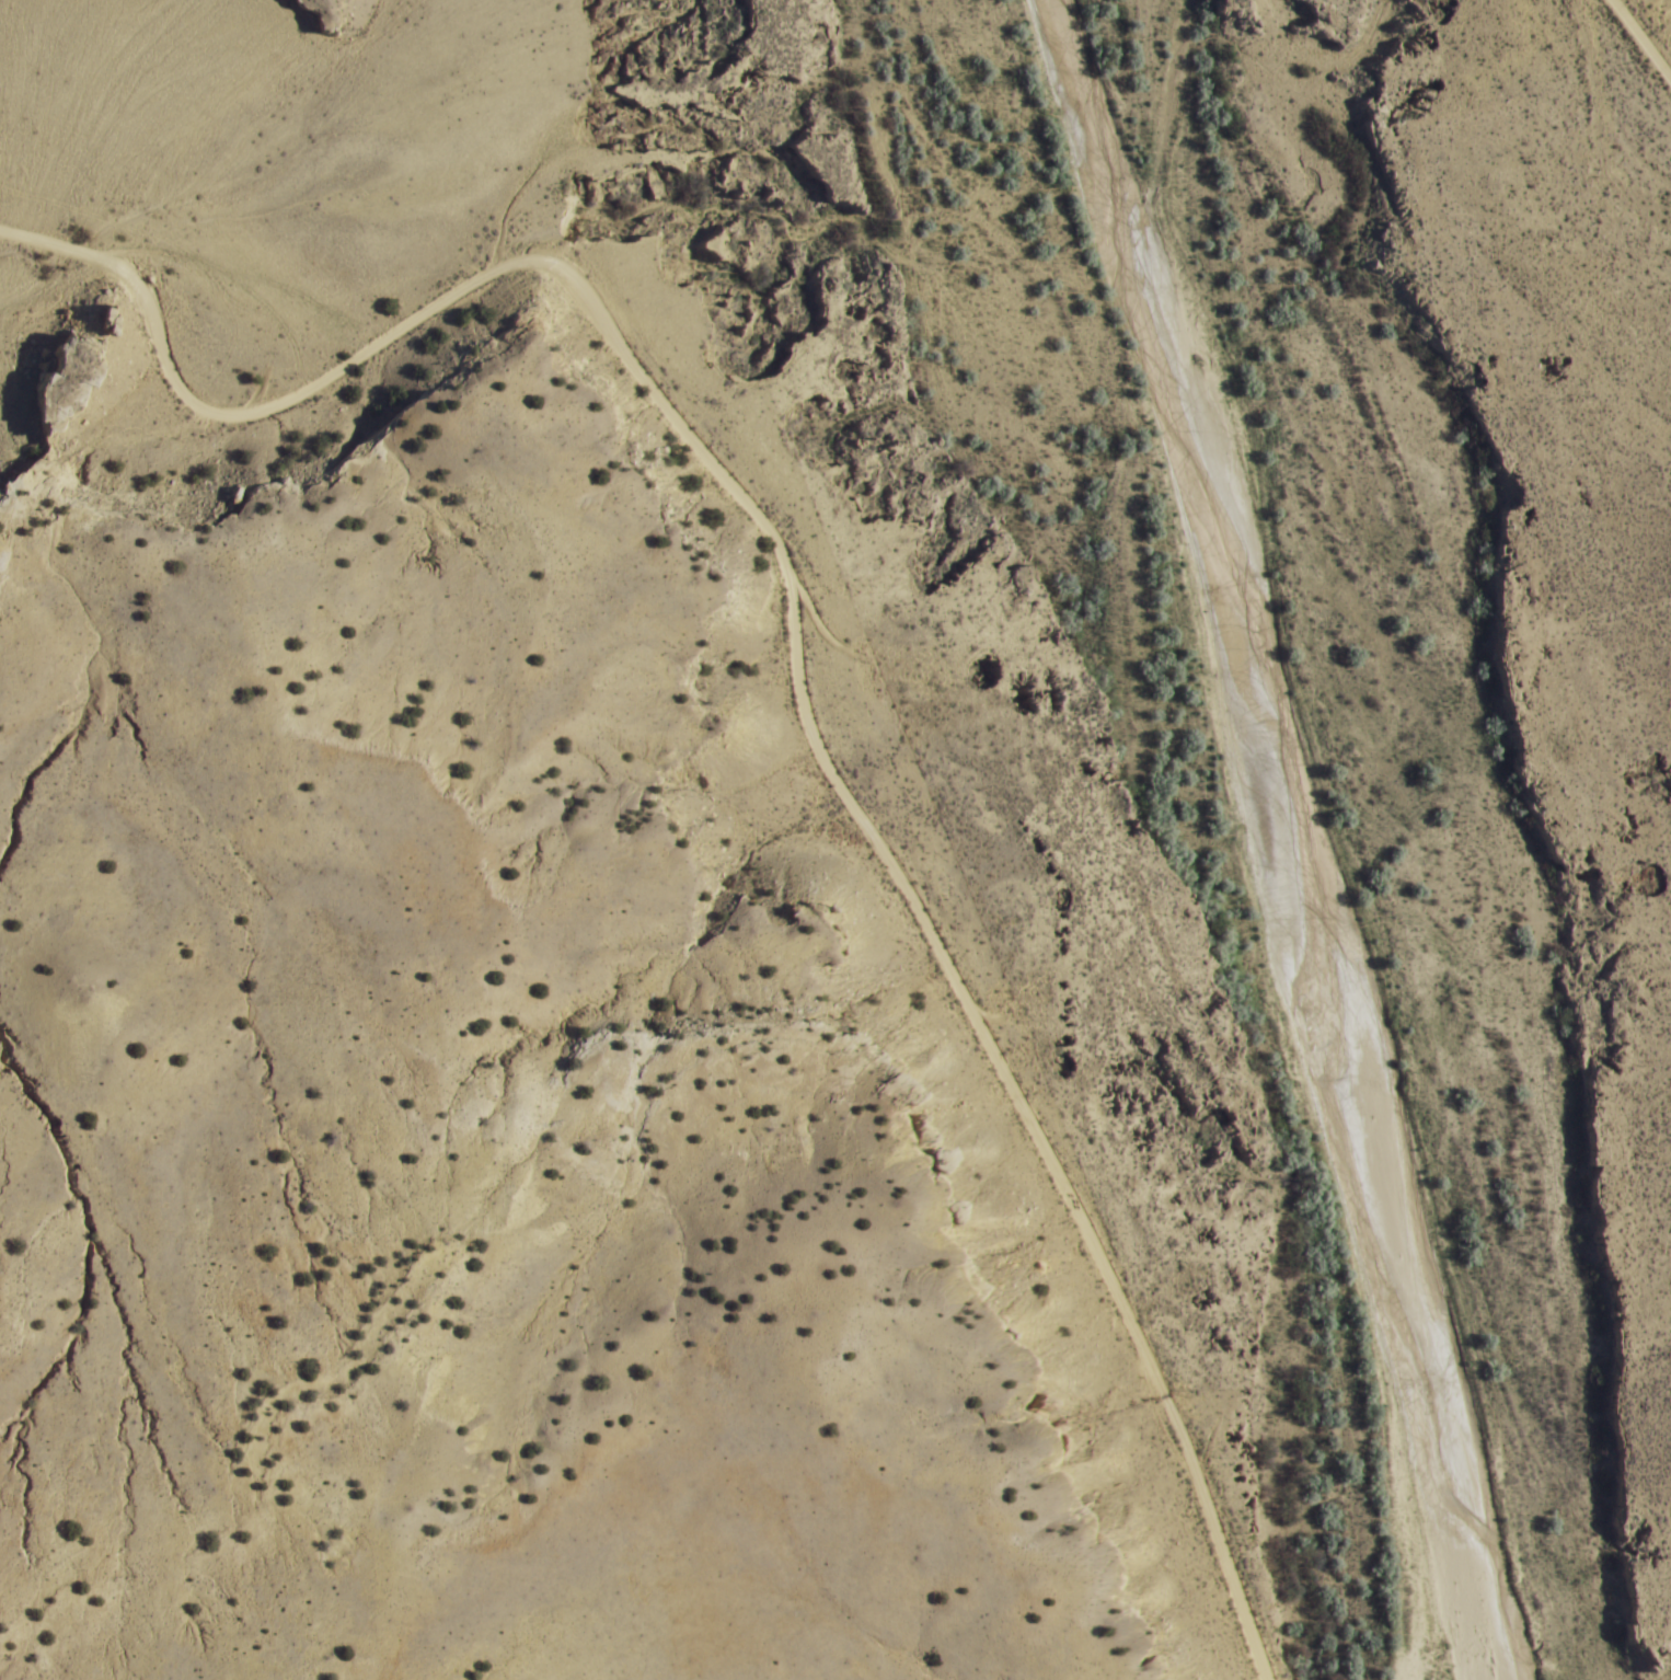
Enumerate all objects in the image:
road: (1644, 35)
road: (794, 640)
river: (1293, 827)

